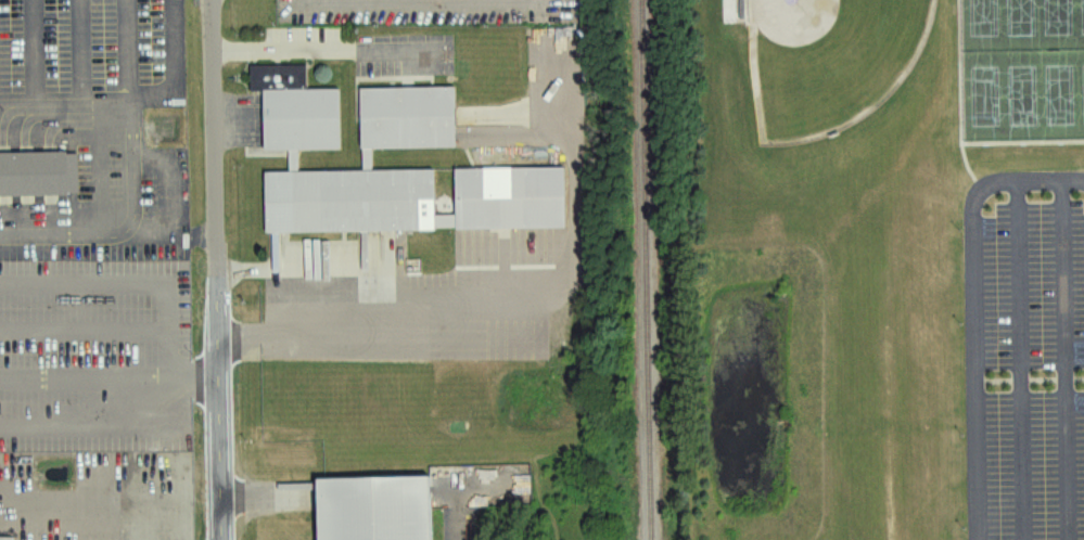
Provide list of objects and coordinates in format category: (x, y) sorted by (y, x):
road: (327, 49)
parking lot: (93, 52)
road: (31, 54)
road: (80, 54)
road: (128, 54)
park: (834, 62)
road: (176, 78)
road: (116, 112)
building: (307, 146)
building: (36, 175)
road: (1080, 180)
road: (111, 229)
road: (221, 270)
railway: (651, 270)
road: (130, 285)
road: (518, 296)
road: (974, 312)
road: (82, 329)
parking lot: (1028, 355)
road: (1068, 359)
road: (1023, 360)
road: (92, 376)
road: (1082, 380)
road: (1048, 381)
road: (1071, 381)
road: (996, 382)
road: (1025, 382)
road: (126, 426)
road: (265, 502)
road: (89, 507)
building: (380, 509)
parking lot: (464, 523)
road: (454, 528)

